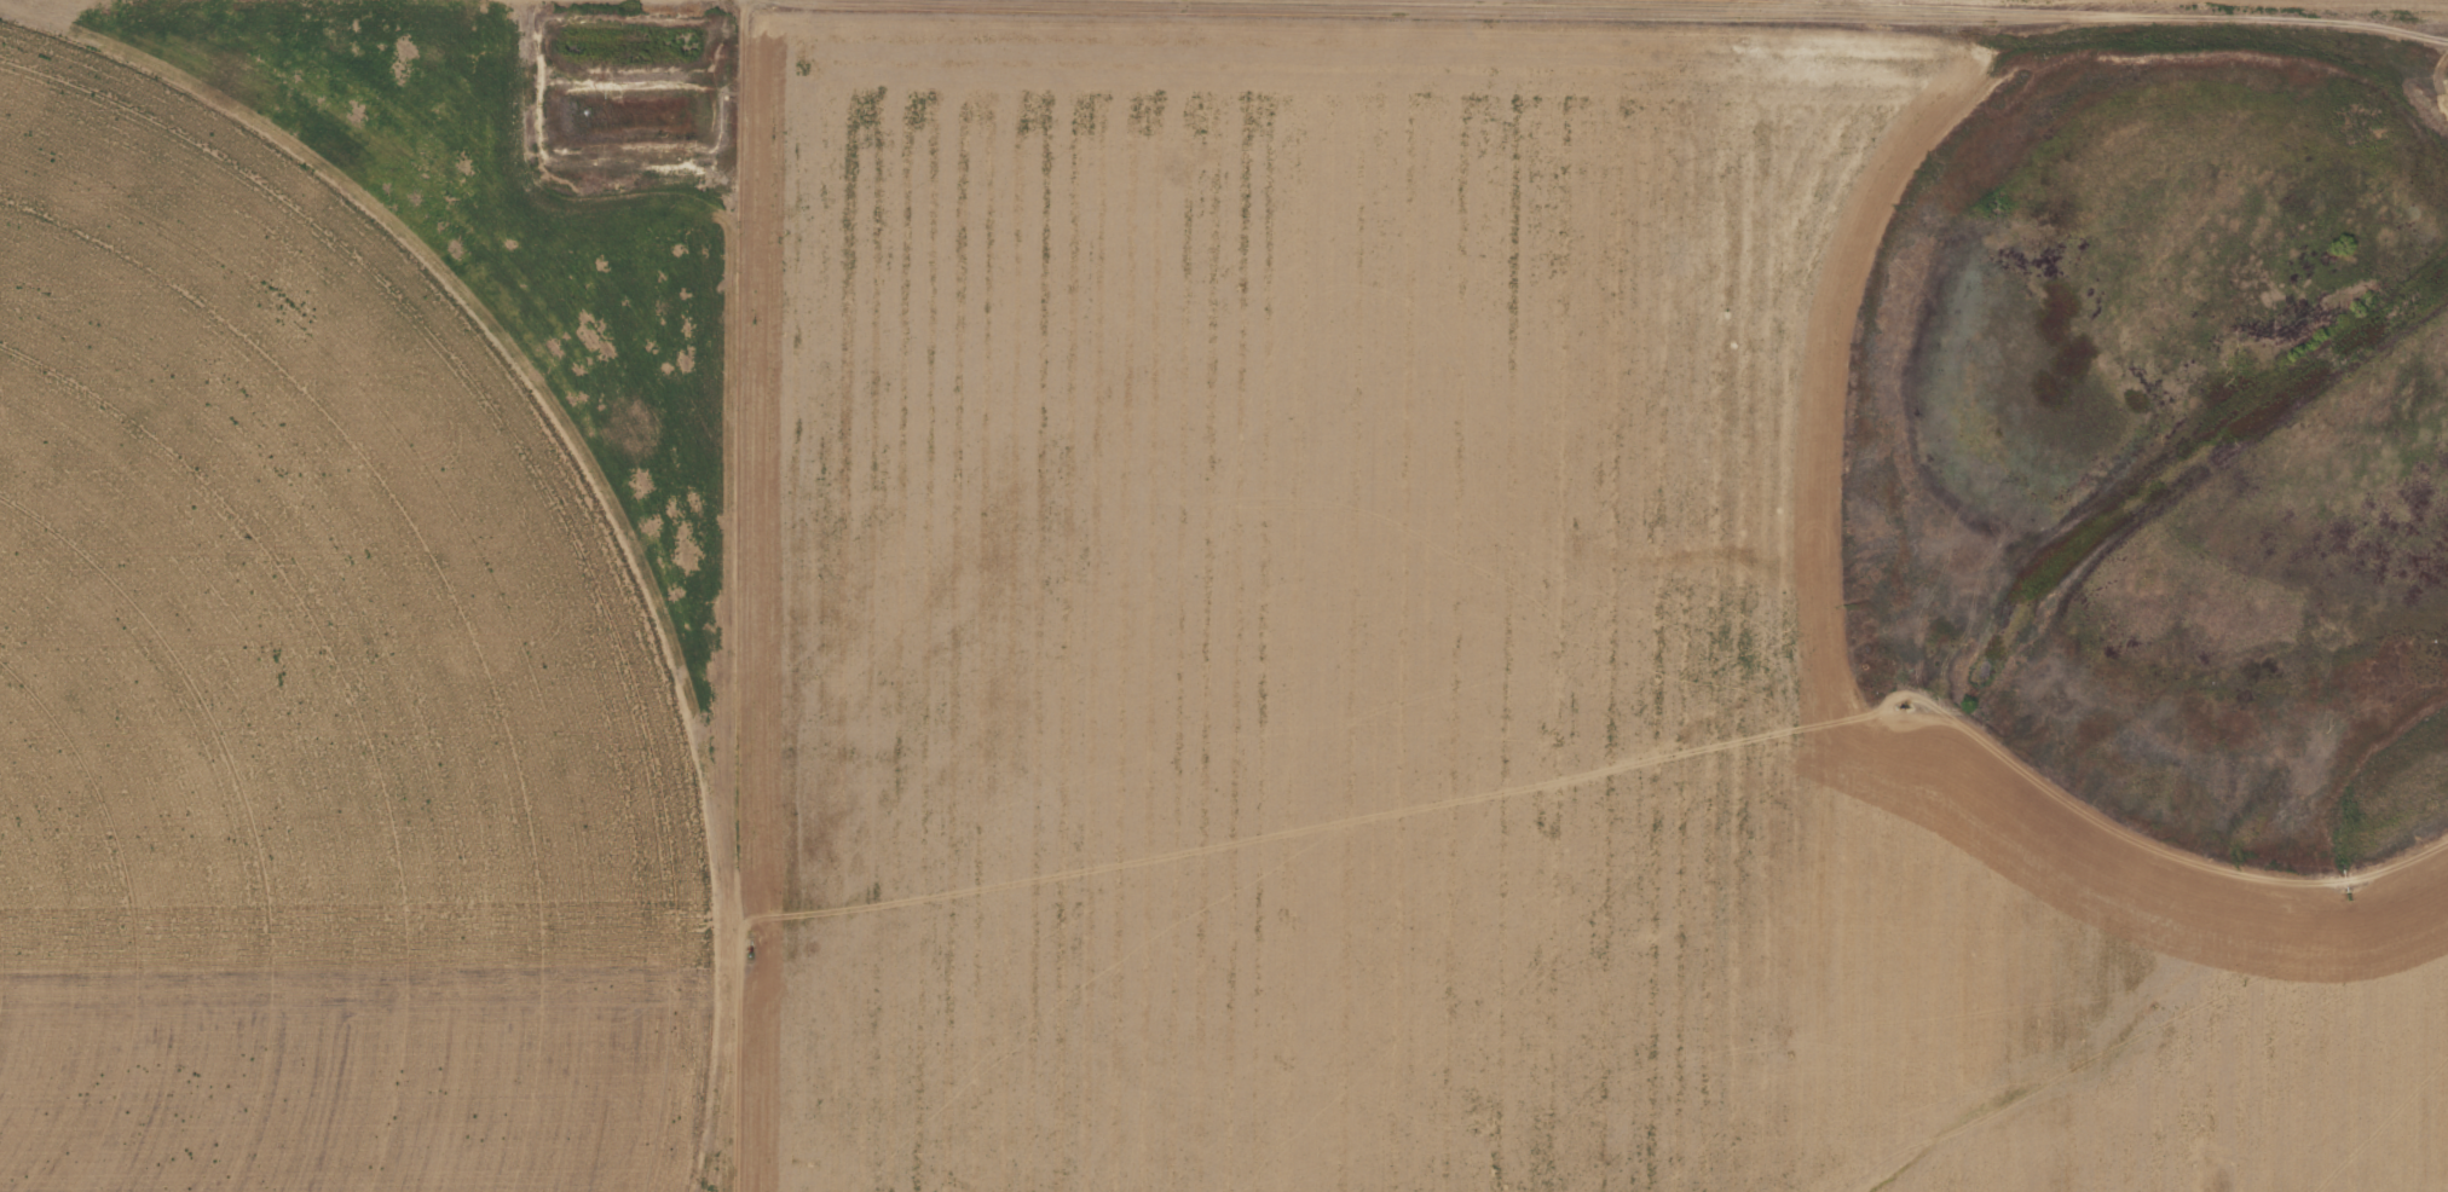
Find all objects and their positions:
road: (2392, 6)
road: (985, 15)
road: (732, 604)

